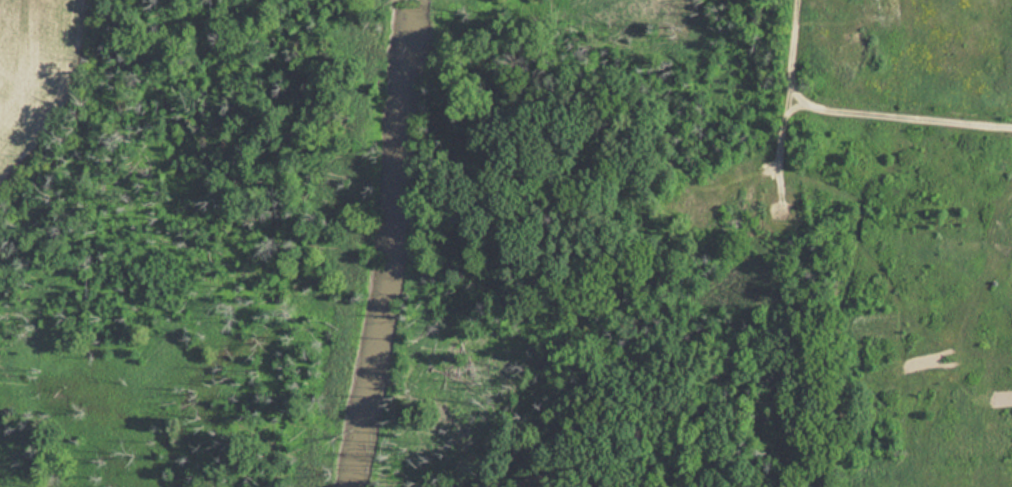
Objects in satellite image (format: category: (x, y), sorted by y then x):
road: (845, 115)
river: (386, 244)

